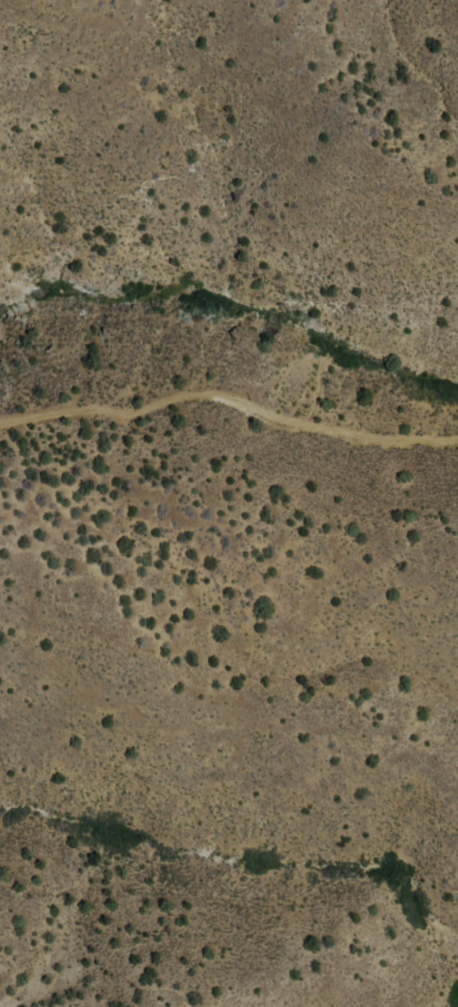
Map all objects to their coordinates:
road: (229, 393)

